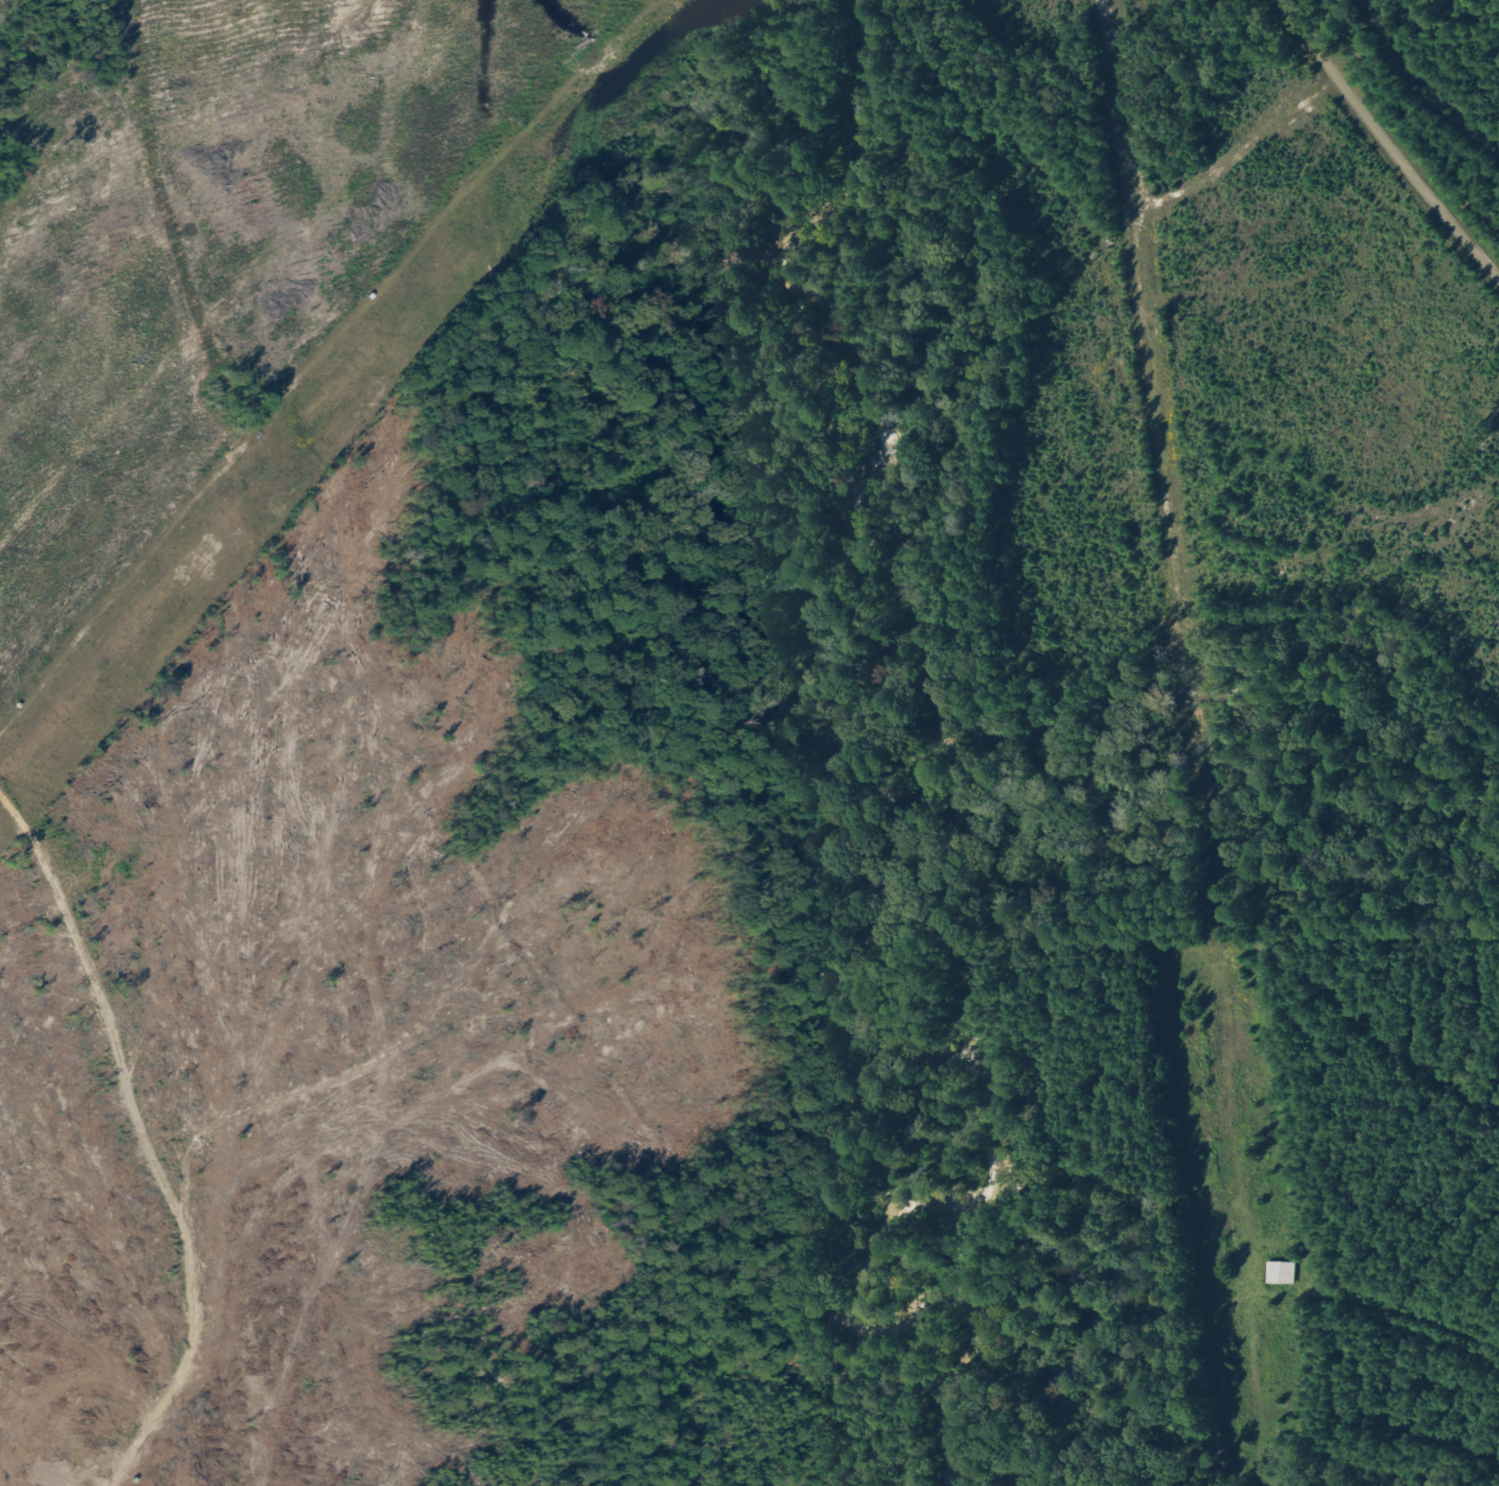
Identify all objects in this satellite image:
road: (1373, 157)
building: (1280, 1272)

